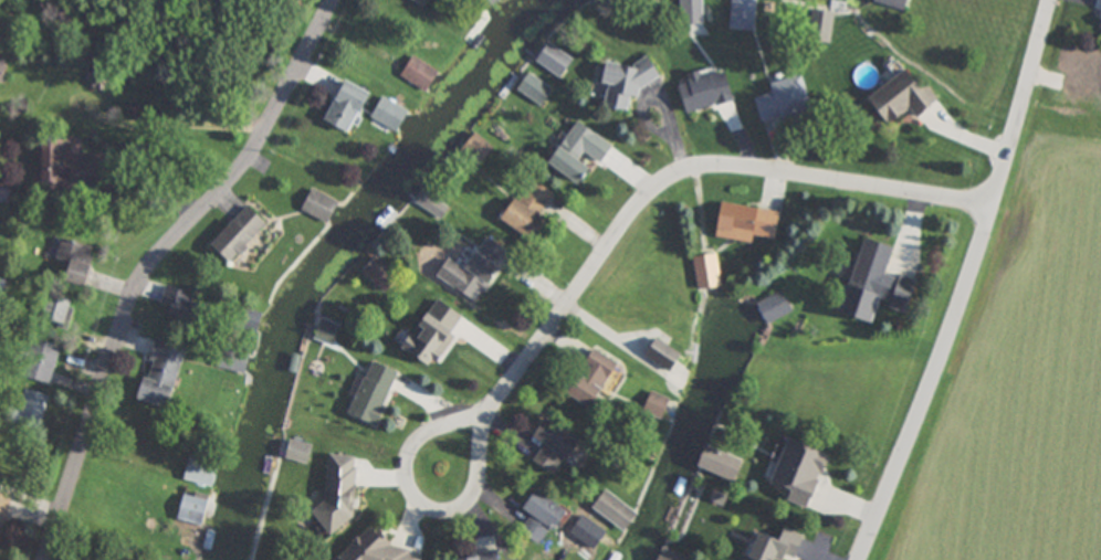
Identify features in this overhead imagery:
building: (417, 2)
building: (892, 3)
building: (482, 4)
building: (689, 12)
building: (741, 14)
building: (818, 27)
building: (1099, 35)
building: (552, 61)
building: (0, 72)
building: (415, 75)
building: (620, 83)
building: (532, 89)
building: (700, 92)
building: (894, 98)
building: (779, 99)
building: (340, 108)
building: (385, 116)
building: (572, 151)
building: (60, 162)
building: (316, 207)
building: (524, 209)
building: (743, 223)
building: (233, 235)
road: (160, 260)
building: (71, 262)
building: (474, 268)
building: (705, 272)
building: (376, 275)
road: (585, 276)
road: (960, 282)
building: (869, 283)
building: (170, 303)
building: (773, 308)
building: (53, 310)
building: (241, 319)
building: (322, 334)
building: (428, 334)
building: (659, 355)
building: (34, 356)
building: (229, 359)
building: (157, 372)
building: (586, 378)
building: (368, 394)
building: (651, 405)
building: (25, 410)
building: (547, 446)
building: (295, 452)
building: (714, 464)
building: (198, 473)
building: (790, 473)
building: (334, 493)
building: (1, 504)
building: (189, 507)
building: (608, 510)
building: (534, 517)
building: (769, 547)
building: (376, 550)
building: (664, 556)
building: (474, 557)

